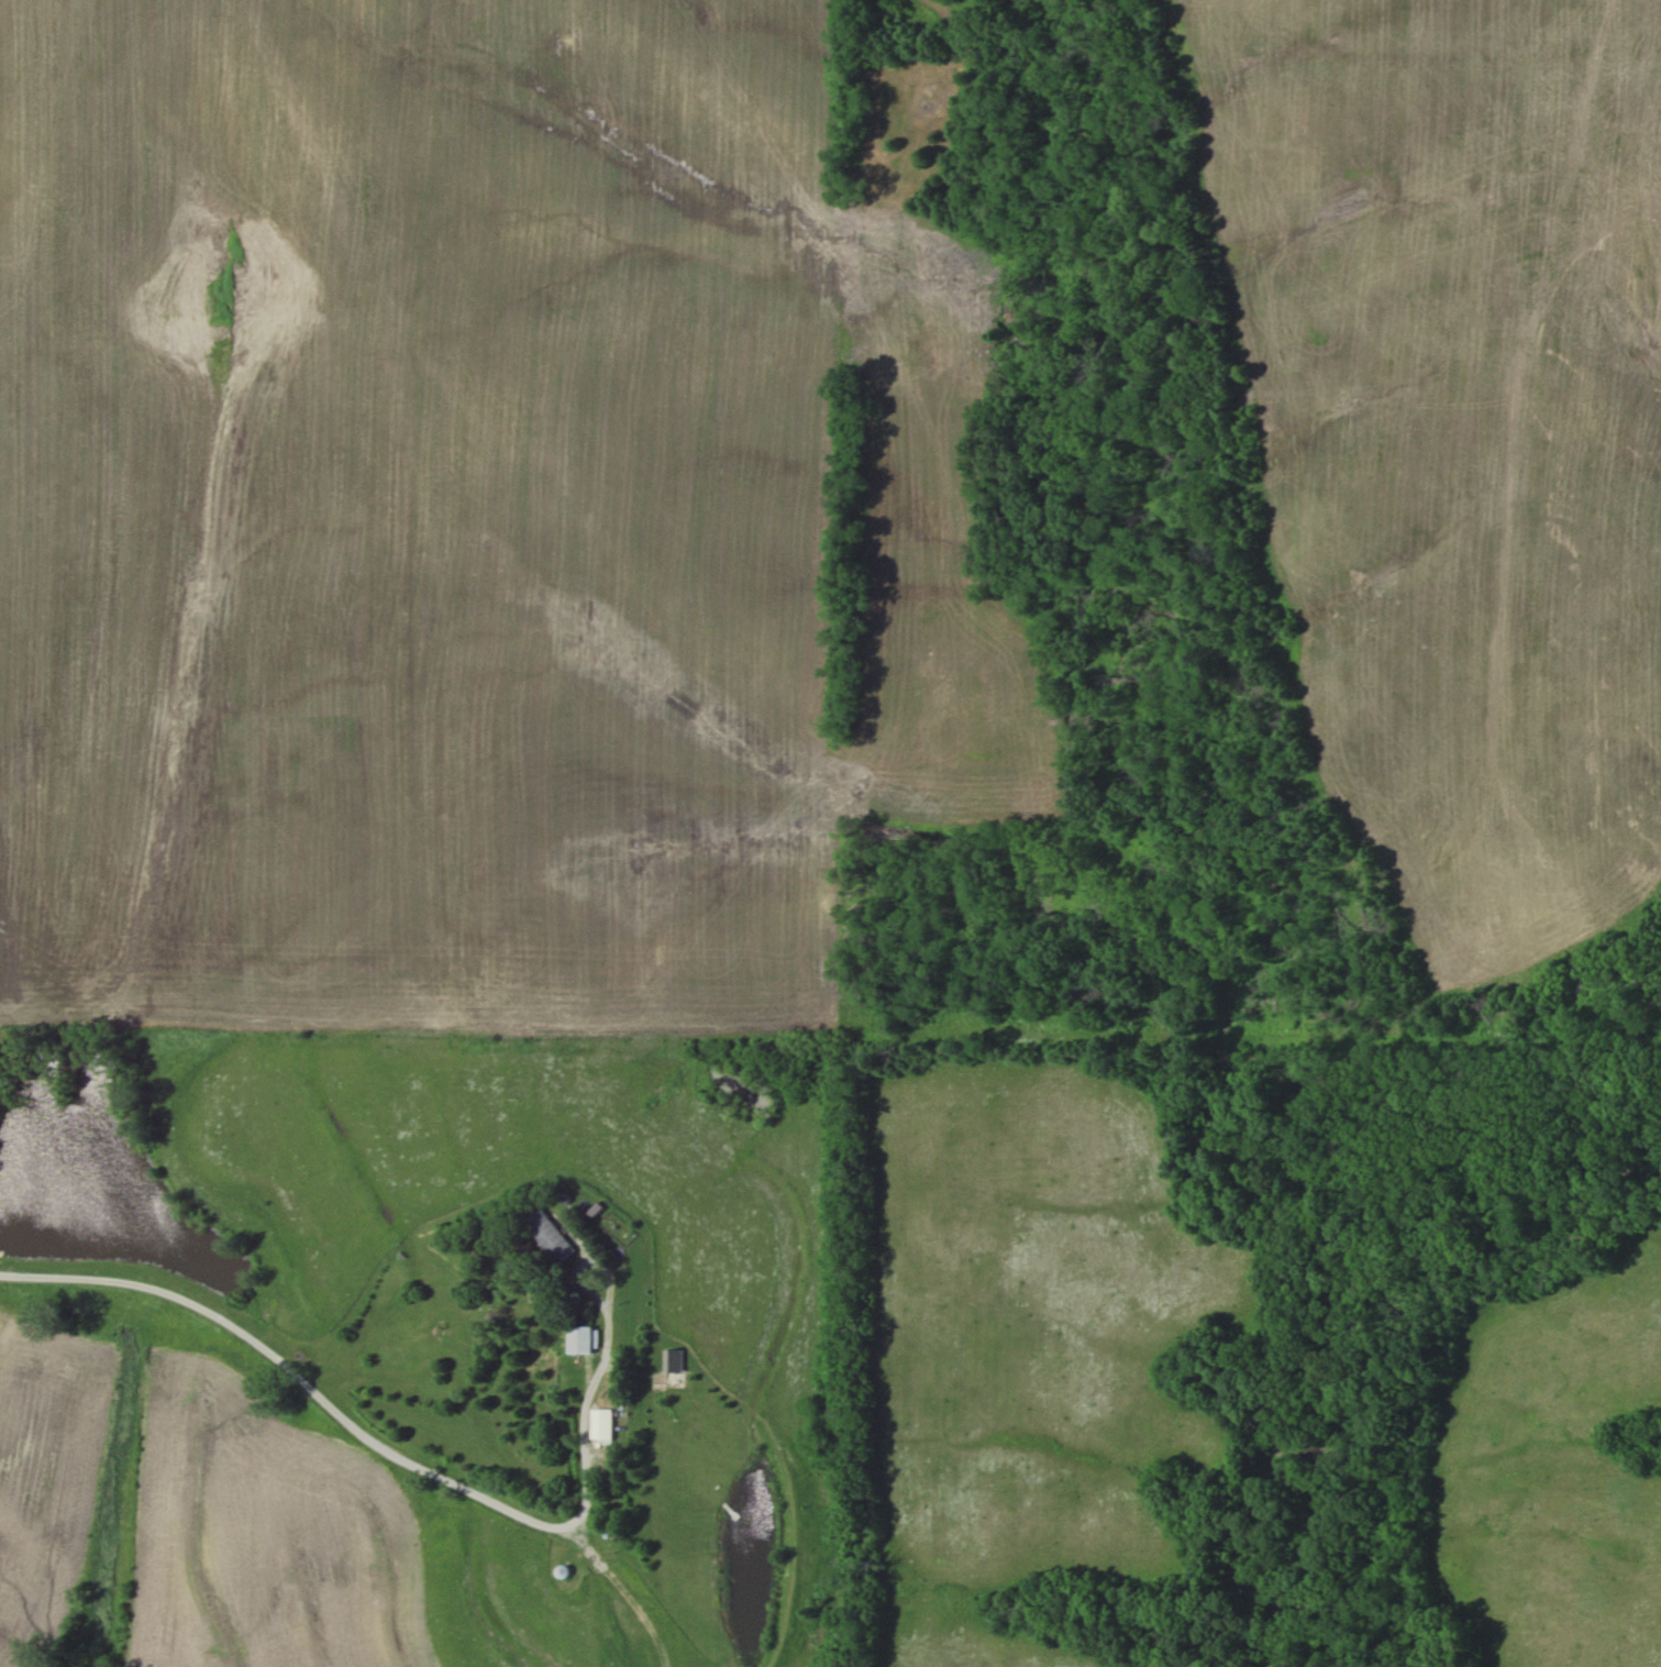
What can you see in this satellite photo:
building: (556, 1237)
building: (589, 1342)
building: (685, 1362)
building: (610, 1426)
road: (396, 1456)

